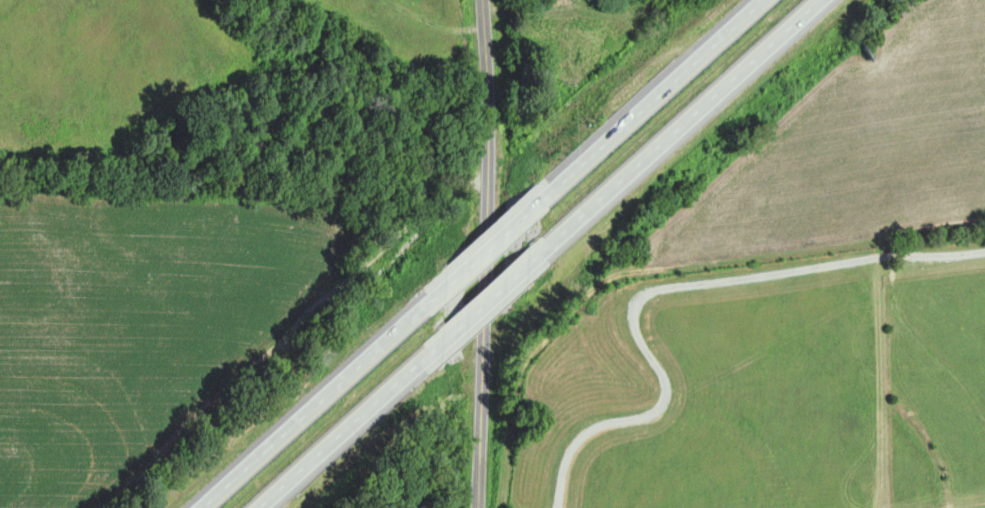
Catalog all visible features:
road: (646, 102)
road: (674, 126)
road: (482, 249)
road: (490, 254)
road: (483, 299)
road: (304, 338)
road: (312, 401)
road: (342, 426)

